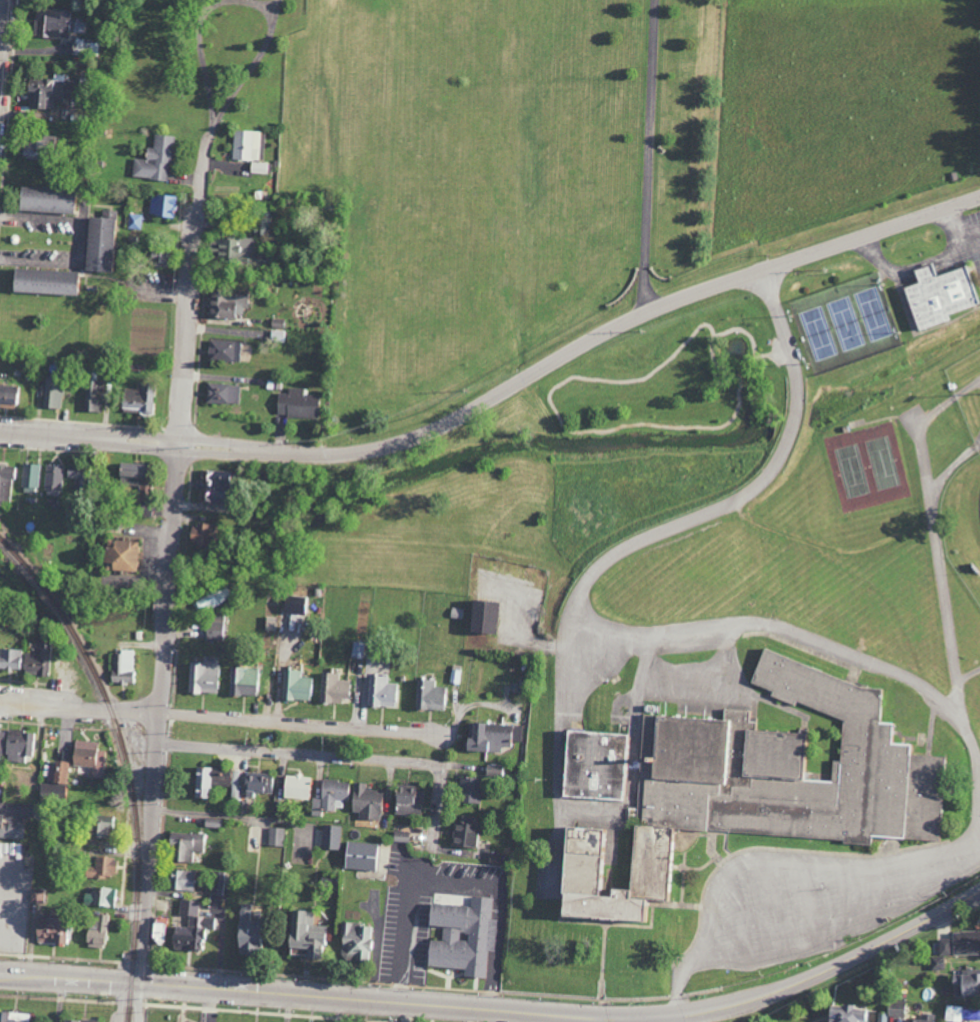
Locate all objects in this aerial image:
road: (1, 14)
building: (50, 24)
building: (48, 90)
road: (226, 105)
building: (245, 144)
building: (29, 148)
road: (647, 155)
building: (154, 159)
building: (257, 167)
park: (500, 173)
building: (43, 199)
building: (161, 205)
building: (259, 226)
building: (97, 241)
building: (237, 248)
building: (155, 257)
building: (41, 281)
building: (938, 294)
building: (226, 303)
park: (874, 313)
park: (846, 323)
park: (818, 333)
building: (278, 334)
building: (222, 350)
road: (502, 389)
building: (51, 393)
building: (221, 393)
building: (92, 395)
building: (9, 396)
building: (136, 398)
building: (296, 403)
road: (552, 403)
road: (182, 424)
park: (542, 461)
park: (882, 463)
park: (852, 470)
building: (71, 472)
building: (128, 473)
building: (30, 477)
building: (53, 480)
building: (6, 482)
building: (209, 486)
track: (979, 508)
building: (141, 509)
building: (200, 534)
building: (119, 555)
railway: (28, 571)
building: (212, 600)
road: (584, 610)
building: (480, 616)
railway: (67, 620)
building: (213, 630)
building: (287, 641)
building: (25, 660)
building: (122, 667)
building: (202, 676)
building: (241, 681)
building: (295, 686)
building: (332, 688)
building: (380, 692)
building: (427, 695)
road: (79, 708)
road: (301, 721)
building: (489, 737)
building: (0, 739)
building: (17, 745)
road: (337, 753)
building: (88, 757)
building: (591, 765)
building: (56, 780)
building: (214, 781)
building: (257, 782)
building: (295, 786)
building: (755, 788)
building: (468, 790)
building: (329, 796)
building: (404, 800)
building: (365, 801)
railway: (135, 824)
building: (98, 825)
building: (11, 829)
building: (464, 832)
building: (275, 836)
building: (330, 837)
building: (183, 846)
building: (11, 850)
building: (359, 856)
road: (774, 860)
building: (100, 868)
building: (180, 880)
building: (35, 895)
building: (100, 897)
building: (188, 908)
building: (96, 930)
building: (158, 930)
building: (48, 931)
building: (189, 933)
building: (245, 933)
building: (303, 934)
building: (461, 936)
building: (354, 942)
building: (965, 942)
building: (943, 947)
building: (936, 963)
road: (809, 977)
building: (965, 983)
road: (312, 993)
road: (119, 1000)
road: (137, 1001)
road: (341, 1009)
building: (895, 1009)
building: (952, 1013)
building: (13, 1017)
road: (675, 1019)

